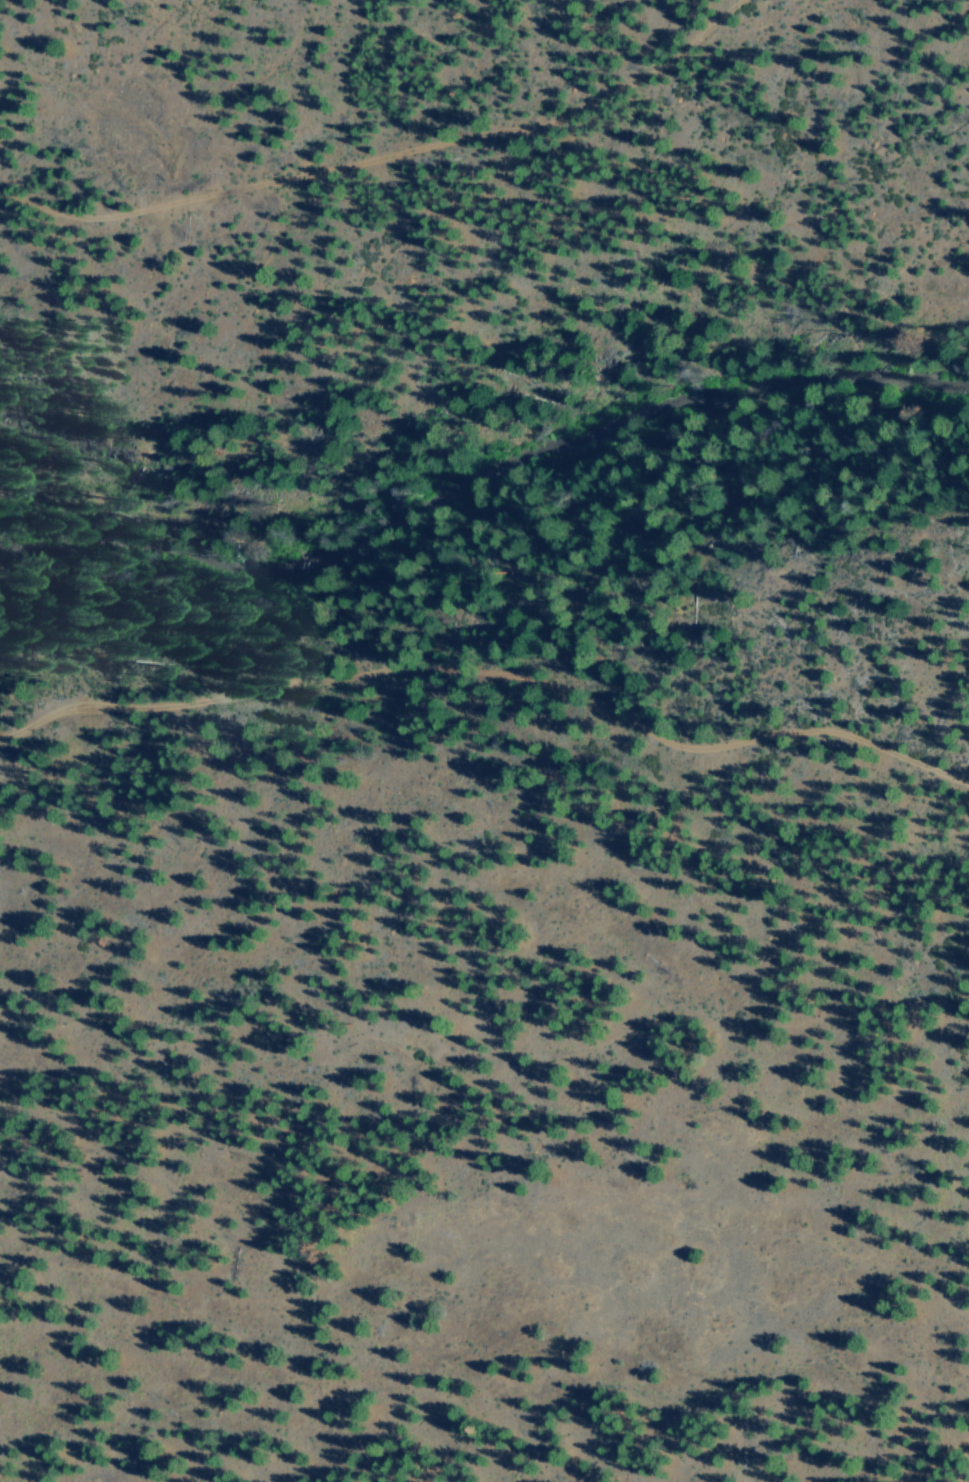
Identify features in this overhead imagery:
road: (919, 1447)

